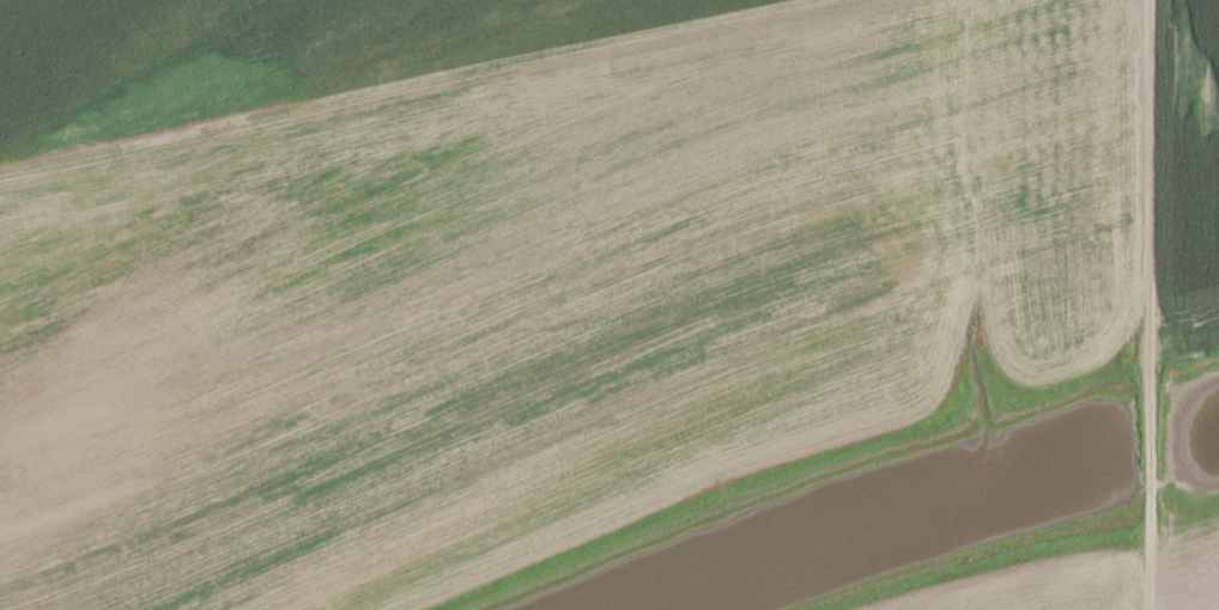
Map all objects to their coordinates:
road: (1153, 305)

